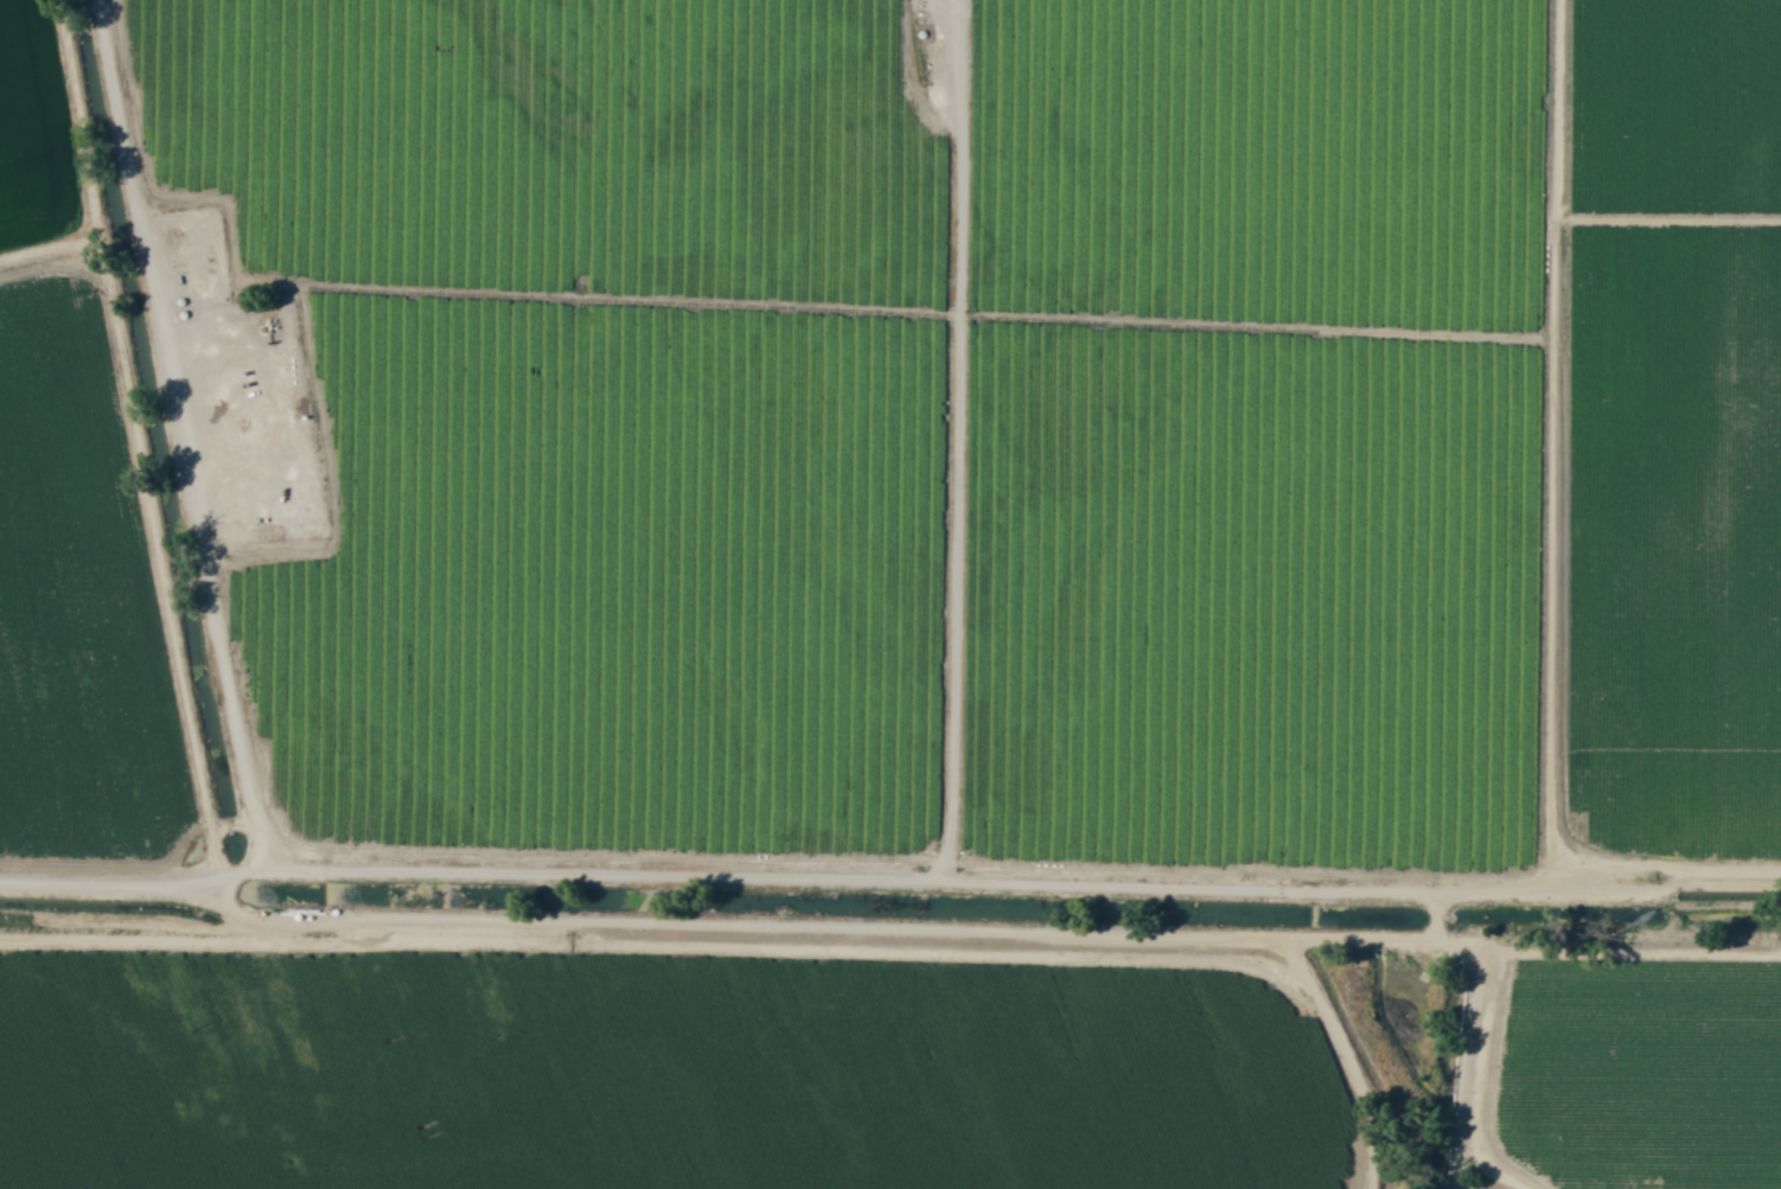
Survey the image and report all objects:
road: (888, 870)

